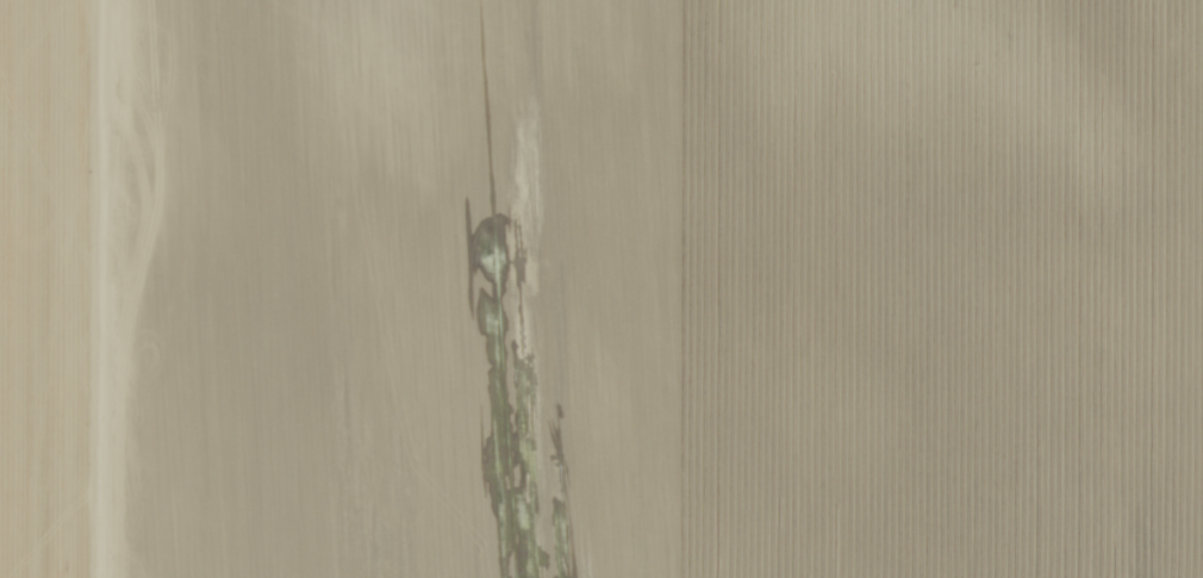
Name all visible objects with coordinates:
road: (88, 288)
crop: (601, 288)

